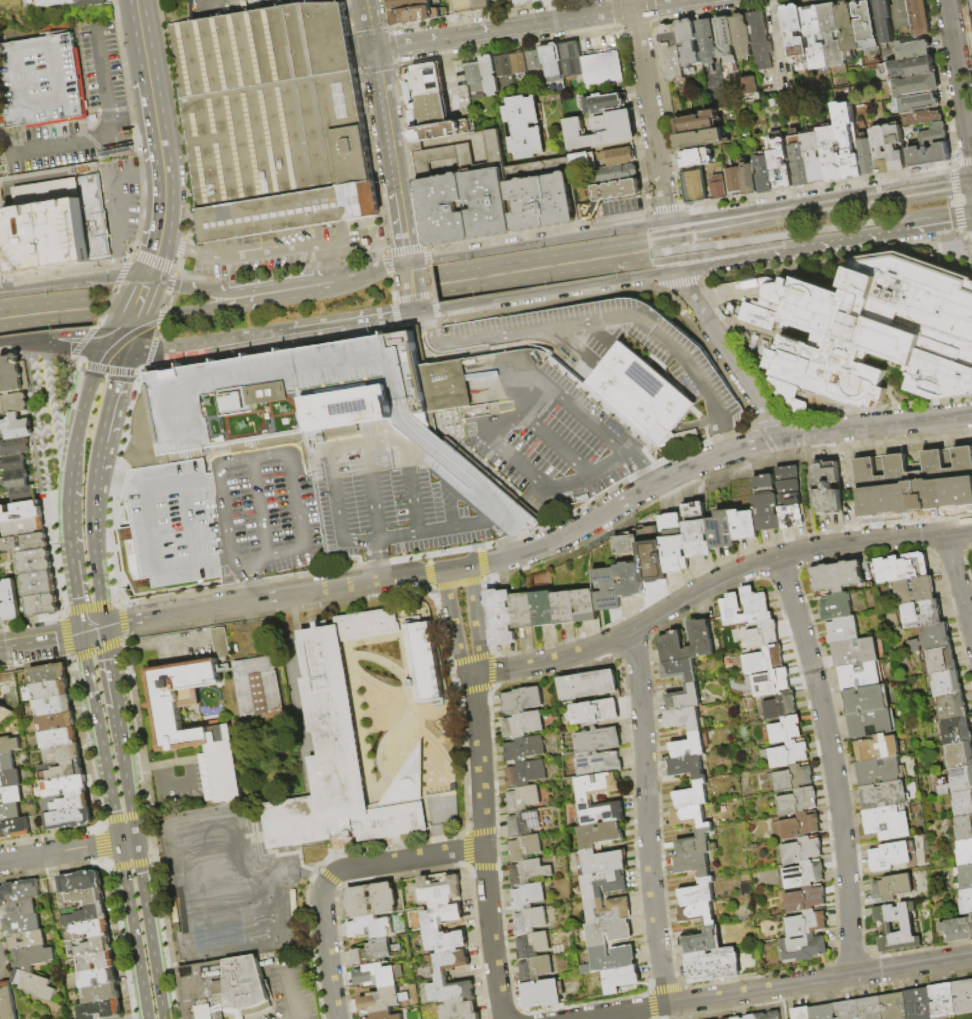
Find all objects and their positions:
building: (556, 0)
building: (522, 1)
building: (60, 2)
building: (94, 2)
building: (404, 3)
building: (971, 4)
building: (480, 5)
building: (464, 6)
road: (772, 7)
building: (415, 15)
road: (587, 15)
building: (901, 15)
building: (919, 17)
building: (883, 21)
building: (865, 22)
road: (369, 24)
building: (847, 28)
building: (795, 34)
road: (47, 35)
building: (831, 35)
building: (741, 37)
building: (813, 37)
road: (433, 40)
building: (706, 41)
building: (725, 41)
building: (759, 41)
building: (688, 43)
building: (912, 50)
building: (671, 52)
road: (779, 55)
building: (570, 58)
building: (534, 60)
building: (552, 63)
parking lot: (100, 66)
building: (519, 66)
building: (602, 68)
building: (906, 68)
road: (148, 70)
building: (504, 70)
building: (490, 75)
parking lot: (40, 76)
building: (475, 77)
road: (101, 78)
building: (428, 80)
road: (959, 80)
building: (40, 82)
building: (915, 85)
building: (748, 86)
building: (604, 103)
building: (918, 103)
road: (649, 109)
building: (431, 110)
building: (924, 118)
building: (272, 120)
road: (385, 120)
building: (695, 123)
building: (524, 127)
building: (440, 131)
building: (623, 131)
building: (933, 135)
building: (697, 139)
building: (847, 140)
road: (55, 144)
road: (128, 144)
building: (894, 148)
road: (585, 151)
building: (881, 151)
building: (831, 154)
road: (162, 155)
building: (459, 155)
building: (927, 155)
building: (866, 156)
building: (616, 157)
building: (695, 158)
building: (814, 159)
building: (799, 161)
building: (582, 164)
building: (780, 164)
road: (151, 174)
building: (616, 174)
building: (763, 174)
building: (733, 180)
building: (748, 180)
building: (692, 188)
building: (617, 190)
building: (717, 190)
road: (892, 194)
road: (165, 199)
parking lot: (121, 201)
building: (543, 202)
building: (488, 203)
road: (117, 206)
parking lot: (623, 206)
building: (445, 210)
building: (588, 211)
building: (94, 218)
building: (48, 227)
road: (402, 227)
road: (890, 227)
road: (609, 229)
road: (169, 238)
road: (623, 244)
flagpole: (949, 248)
road: (155, 254)
road: (258, 254)
road: (153, 259)
road: (622, 263)
road: (115, 268)
road: (122, 271)
road: (334, 272)
road: (365, 272)
road: (128, 279)
traffic signals: (144, 281)
road: (613, 282)
road: (56, 283)
road: (412, 287)
road: (298, 289)
road: (208, 290)
road: (150, 297)
road: (126, 301)
road: (44, 302)
road: (104, 308)
road: (206, 309)
traffic signals: (145, 315)
road: (158, 319)
road: (45, 320)
road: (129, 320)
road: (142, 320)
road: (432, 320)
road: (350, 321)
traffic signals: (114, 326)
building: (872, 329)
road: (530, 332)
road: (73, 333)
road: (120, 336)
road: (108, 338)
road: (132, 339)
road: (16, 341)
road: (80, 343)
road: (67, 345)
road: (205, 345)
traffic signals: (103, 350)
road: (114, 351)
traffic signals: (125, 352)
road: (728, 355)
road: (81, 367)
road: (104, 367)
road: (640, 368)
building: (13, 374)
road: (696, 376)
building: (2, 382)
road: (73, 383)
road: (296, 389)
road: (86, 391)
building: (637, 393)
road: (110, 394)
road: (631, 397)
building: (790, 397)
building: (13, 403)
building: (298, 403)
road: (50, 410)
building: (474, 410)
road: (176, 412)
road: (374, 414)
road: (523, 415)
road: (596, 424)
road: (367, 426)
building: (16, 427)
road: (314, 429)
road: (433, 431)
road: (423, 436)
road: (265, 444)
road: (366, 444)
road: (314, 445)
road: (557, 446)
building: (15, 447)
road: (801, 449)
road: (471, 458)
road: (289, 460)
road: (70, 461)
building: (13, 463)
road: (149, 465)
road: (646, 475)
building: (16, 480)
road: (182, 482)
building: (914, 483)
road: (556, 485)
building: (828, 488)
road: (413, 489)
road: (458, 491)
road: (371, 492)
building: (22, 495)
building: (790, 497)
parking lot: (401, 499)
building: (766, 504)
road: (335, 506)
road: (67, 508)
road: (259, 508)
building: (21, 512)
parking lot: (225, 516)
road: (225, 518)
road: (188, 524)
road: (811, 524)
building: (745, 525)
building: (23, 527)
road: (151, 529)
road: (428, 530)
building: (722, 530)
building: (697, 531)
building: (23, 544)
road: (546, 544)
building: (674, 544)
road: (514, 545)
building: (626, 545)
road: (266, 557)
road: (376, 560)
building: (35, 562)
road: (193, 565)
building: (653, 565)
building: (901, 567)
building: (836, 575)
road: (72, 579)
building: (630, 579)
road: (250, 581)
road: (715, 581)
road: (958, 583)
building: (39, 584)
building: (922, 586)
building: (607, 589)
building: (9, 600)
building: (836, 605)
building: (43, 606)
building: (586, 606)
road: (100, 608)
building: (543, 608)
building: (564, 608)
building: (745, 608)
building: (1, 611)
building: (522, 611)
building: (929, 614)
road: (317, 616)
building: (499, 618)
road: (475, 621)
road: (453, 624)
traffic signals: (103, 626)
building: (842, 629)
traffic signals: (82, 632)
building: (762, 635)
road: (185, 638)
building: (930, 638)
road: (52, 639)
building: (670, 642)
road: (133, 647)
road: (295, 652)
building: (854, 652)
building: (940, 659)
building: (762, 660)
building: (679, 670)
building: (49, 673)
building: (861, 676)
building: (774, 683)
building: (945, 683)
building: (588, 685)
building: (51, 689)
building: (258, 690)
building: (684, 697)
building: (866, 699)
building: (522, 700)
road: (411, 703)
building: (54, 706)
road: (94, 706)
building: (779, 706)
building: (951, 707)
building: (596, 711)
building: (5, 714)
building: (565, 715)
building: (683, 718)
building: (57, 722)
building: (871, 723)
building: (523, 724)
building: (171, 728)
building: (785, 730)
building: (955, 731)
building: (348, 737)
building: (59, 738)
building: (598, 741)
building: (9, 746)
road: (384, 747)
building: (689, 747)
building: (877, 747)
building: (524, 749)
building: (63, 754)
building: (786, 754)
building: (959, 755)
road: (832, 762)
building: (7, 763)
building: (600, 764)
building: (687, 767)
building: (878, 770)
building: (526, 773)
building: (63, 778)
building: (792, 778)
building: (10, 779)
building: (958, 781)
building: (598, 785)
building: (208, 790)
building: (10, 795)
building: (692, 795)
building: (883, 795)
building: (209, 797)
building: (523, 798)
building: (797, 801)
building: (67, 802)
building: (962, 803)
building: (10, 812)
building: (602, 812)
road: (445, 813)
road: (647, 816)
building: (690, 816)
building: (69, 819)
building: (887, 822)
building: (524, 823)
building: (799, 826)
building: (14, 828)
building: (963, 828)
road: (438, 834)
building: (600, 835)
traffic signals: (134, 841)
traffic signals: (118, 843)
building: (696, 844)
road: (483, 847)
building: (525, 847)
building: (801, 850)
road: (67, 851)
building: (964, 852)
building: (890, 855)
road: (403, 859)
building: (602, 862)
building: (693, 864)
building: (528, 872)
building: (803, 875)
building: (965, 876)
building: (80, 881)
building: (604, 883)
park: (218, 887)
building: (891, 887)
building: (19, 891)
building: (439, 891)
building: (698, 893)
building: (528, 896)
road: (143, 898)
building: (83, 899)
road: (127, 899)
building: (805, 899)
building: (371, 900)
building: (965, 901)
building: (18, 908)
building: (607, 909)
building: (697, 913)
building: (85, 914)
building: (442, 916)
building: (530, 920)
building: (805, 923)
building: (971, 923)
building: (22, 924)
building: (370, 927)
building: (907, 927)
building: (87, 930)
building: (955, 930)
building: (607, 932)
building: (26, 940)
building: (446, 941)
building: (702, 941)
building: (533, 944)
building: (89, 947)
road: (326, 948)
building: (803, 948)
building: (376, 952)
building: (33, 956)
building: (610, 959)
building: (96, 962)
building: (449, 962)
building: (712, 965)
building: (536, 969)
building: (379, 975)
building: (99, 978)
building: (622, 980)
building: (34, 985)
road: (775, 987)
building: (222, 989)
building: (450, 990)
building: (101, 993)
road: (297, 993)
building: (543, 994)
building: (963, 996)
building: (382, 1000)
building: (7, 1001)
building: (943, 1001)
road: (780, 1003)
building: (919, 1004)
building: (894, 1006)
building: (869, 1008)
building: (101, 1009)
building: (460, 1010)
building: (846, 1010)
building: (823, 1012)
building: (801, 1013)
building: (768, 1015)
building: (384, 1016)
road: (137, 1017)
building: (750, 1017)
building: (737, 1018)

